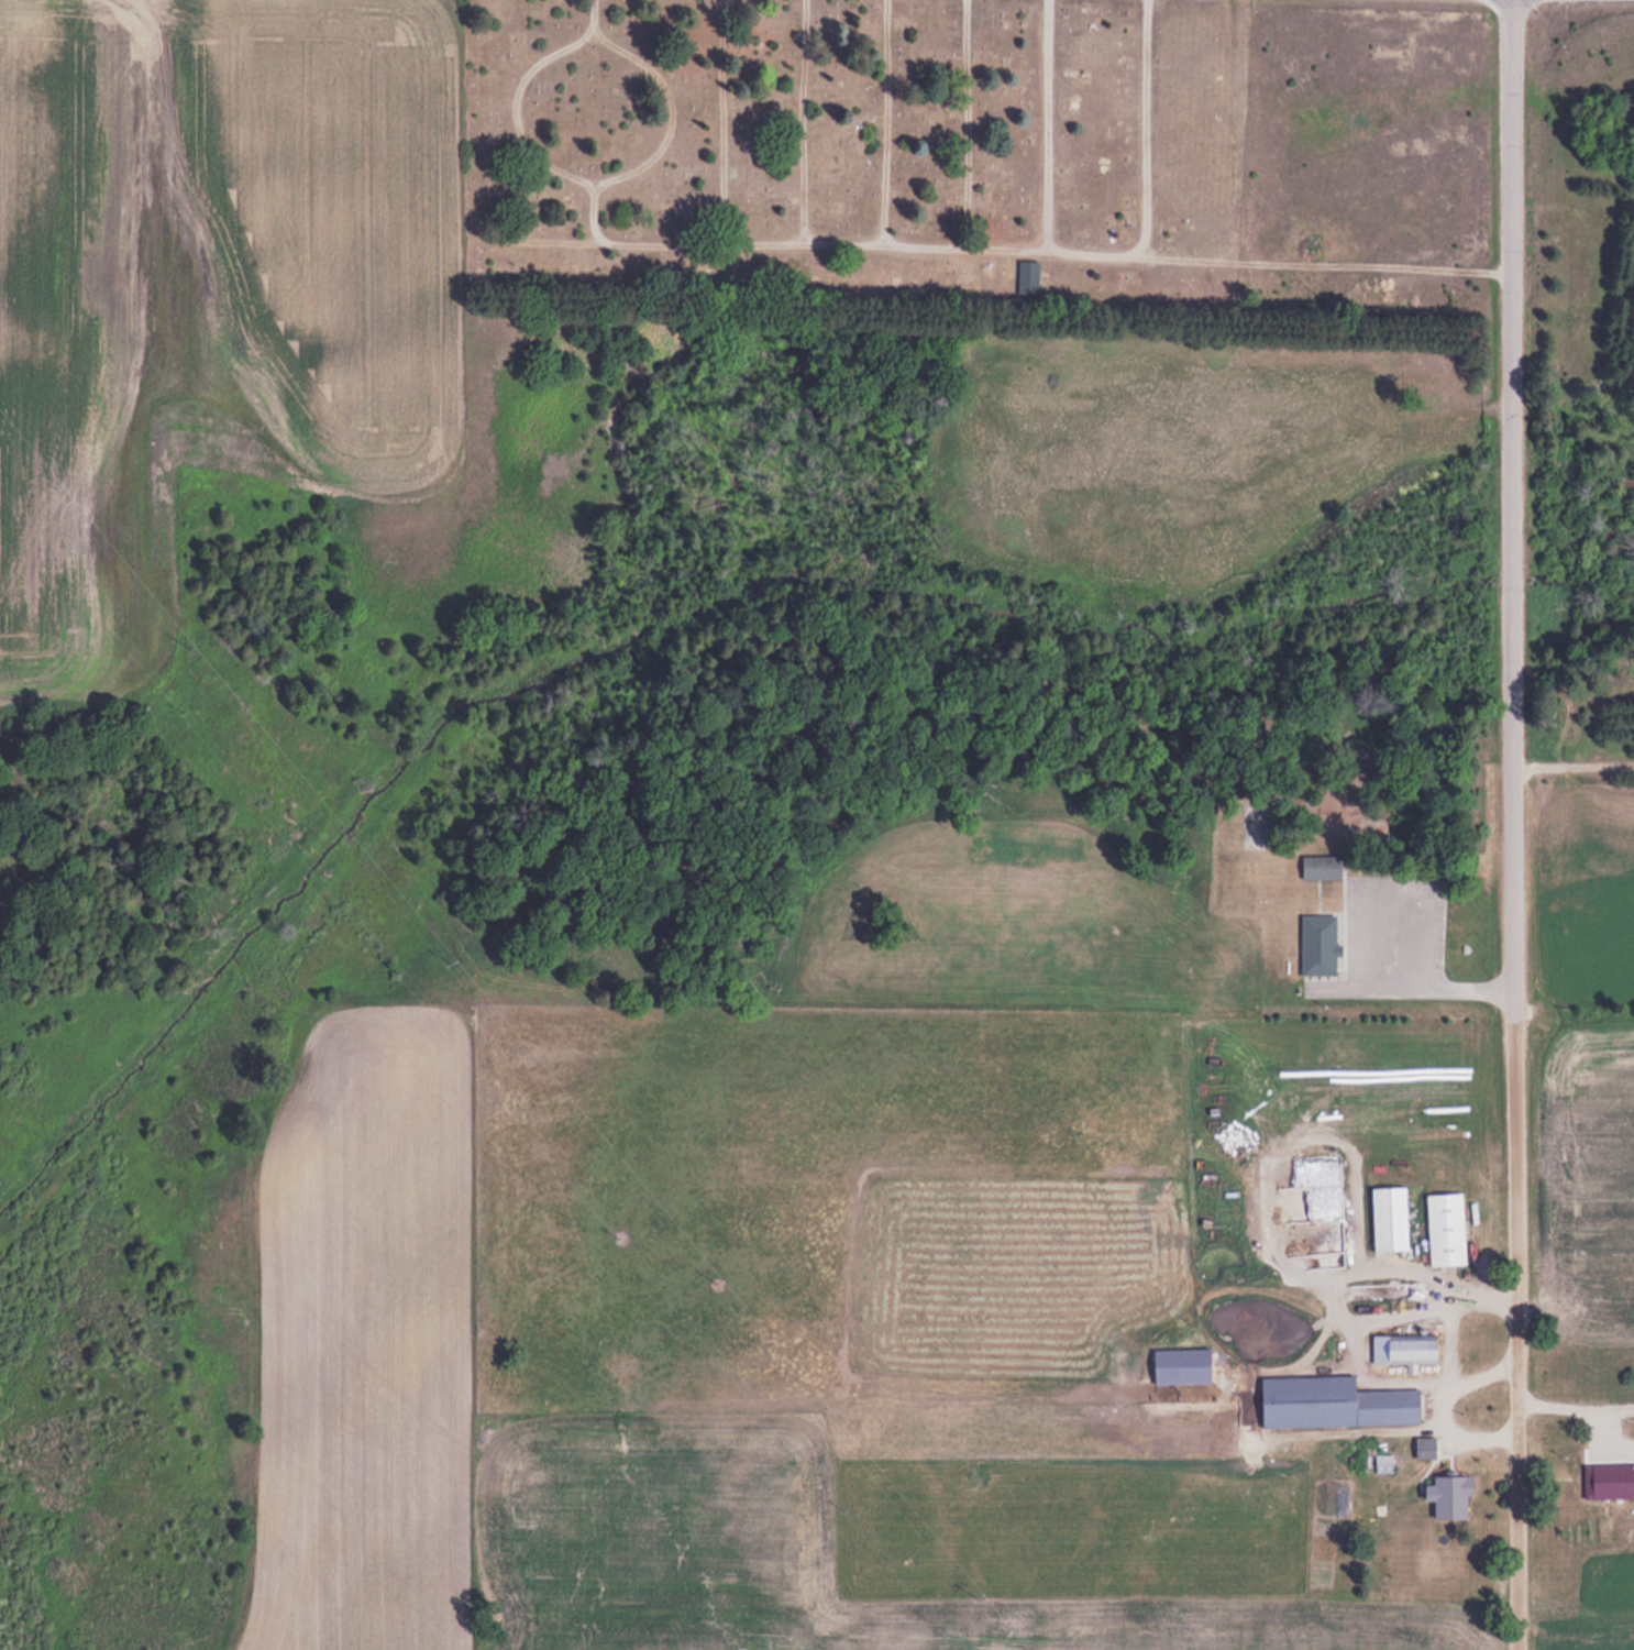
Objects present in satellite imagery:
park: (980, 166)
building: (1025, 275)
building: (1250, 821)
road: (1513, 824)
building: (1321, 866)
building: (1317, 944)
building: (1445, 1228)
building: (1413, 1349)
building: (1182, 1364)
building: (1334, 1401)
building: (1423, 1447)
building: (1591, 1476)
building: (1449, 1491)

